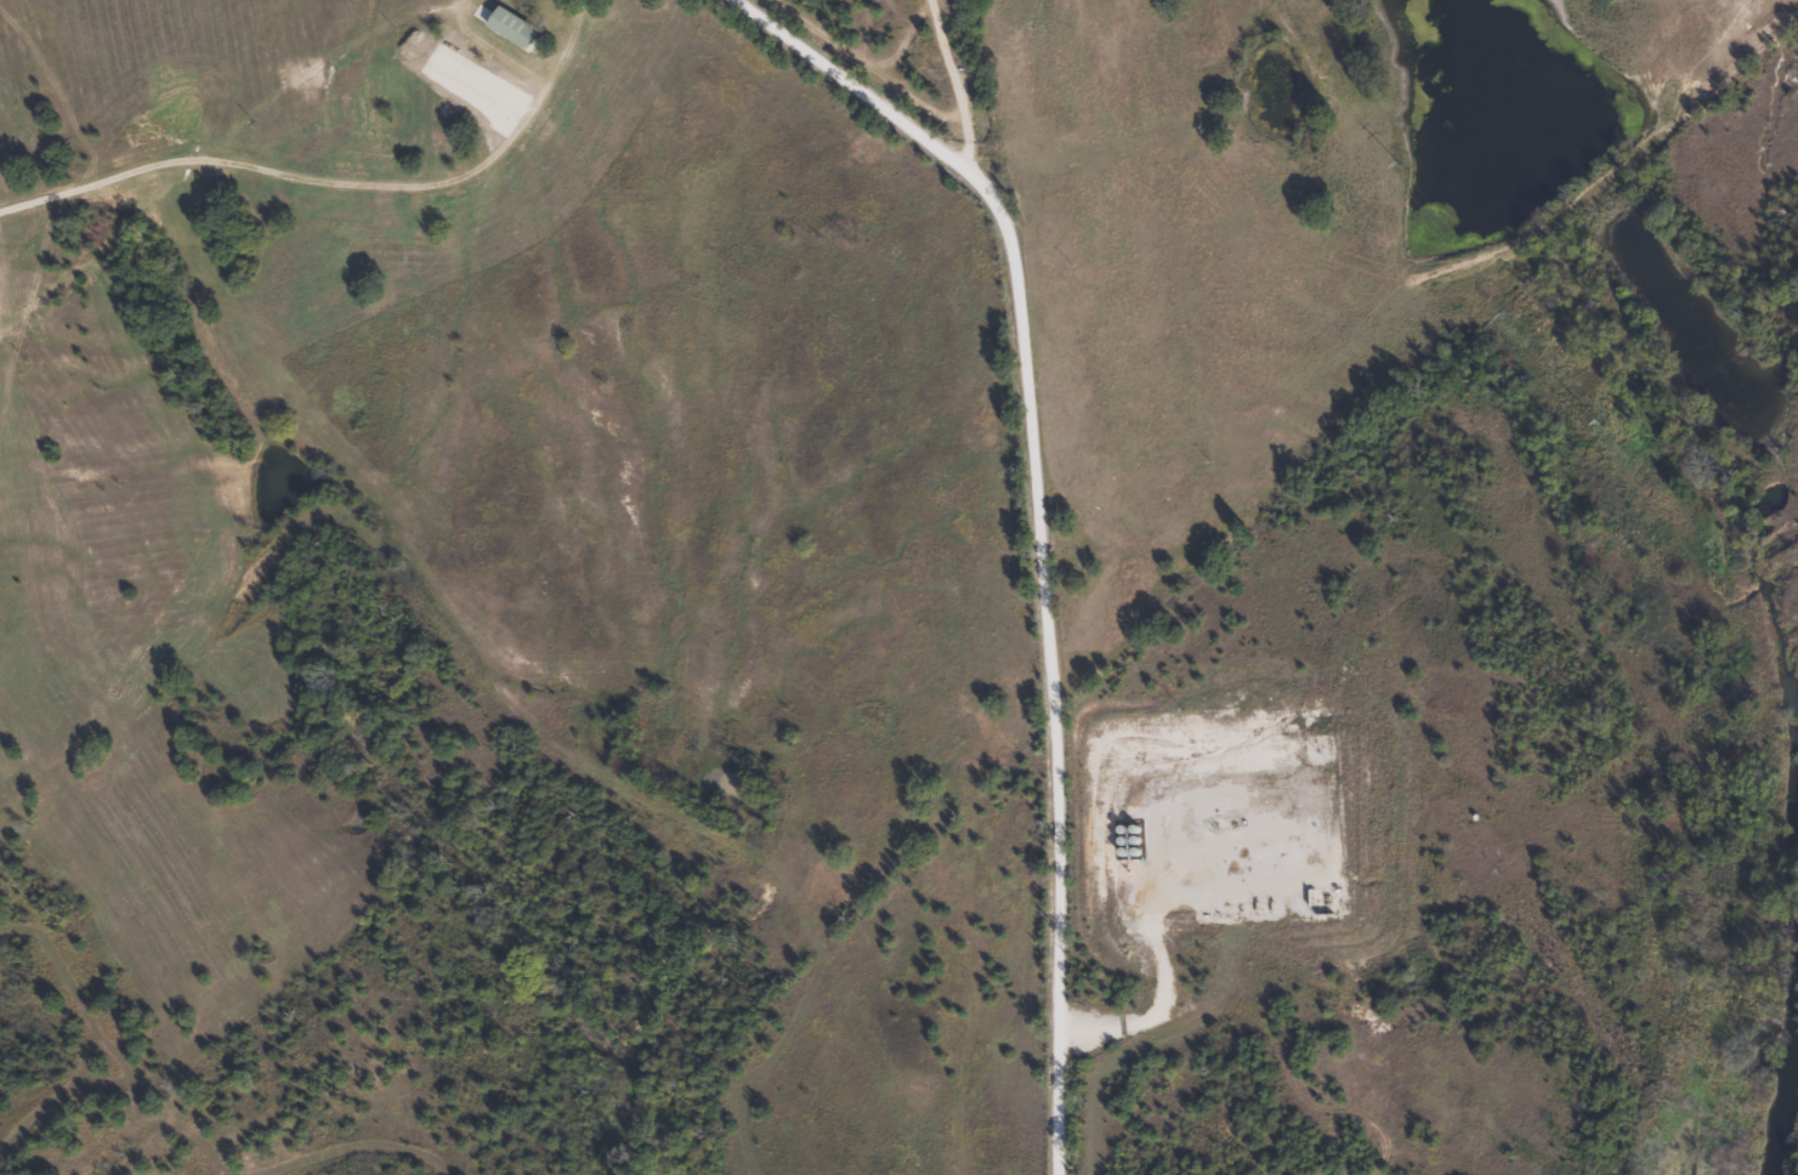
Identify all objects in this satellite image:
building: (510, 25)
road: (1036, 517)
road: (1174, 1004)

